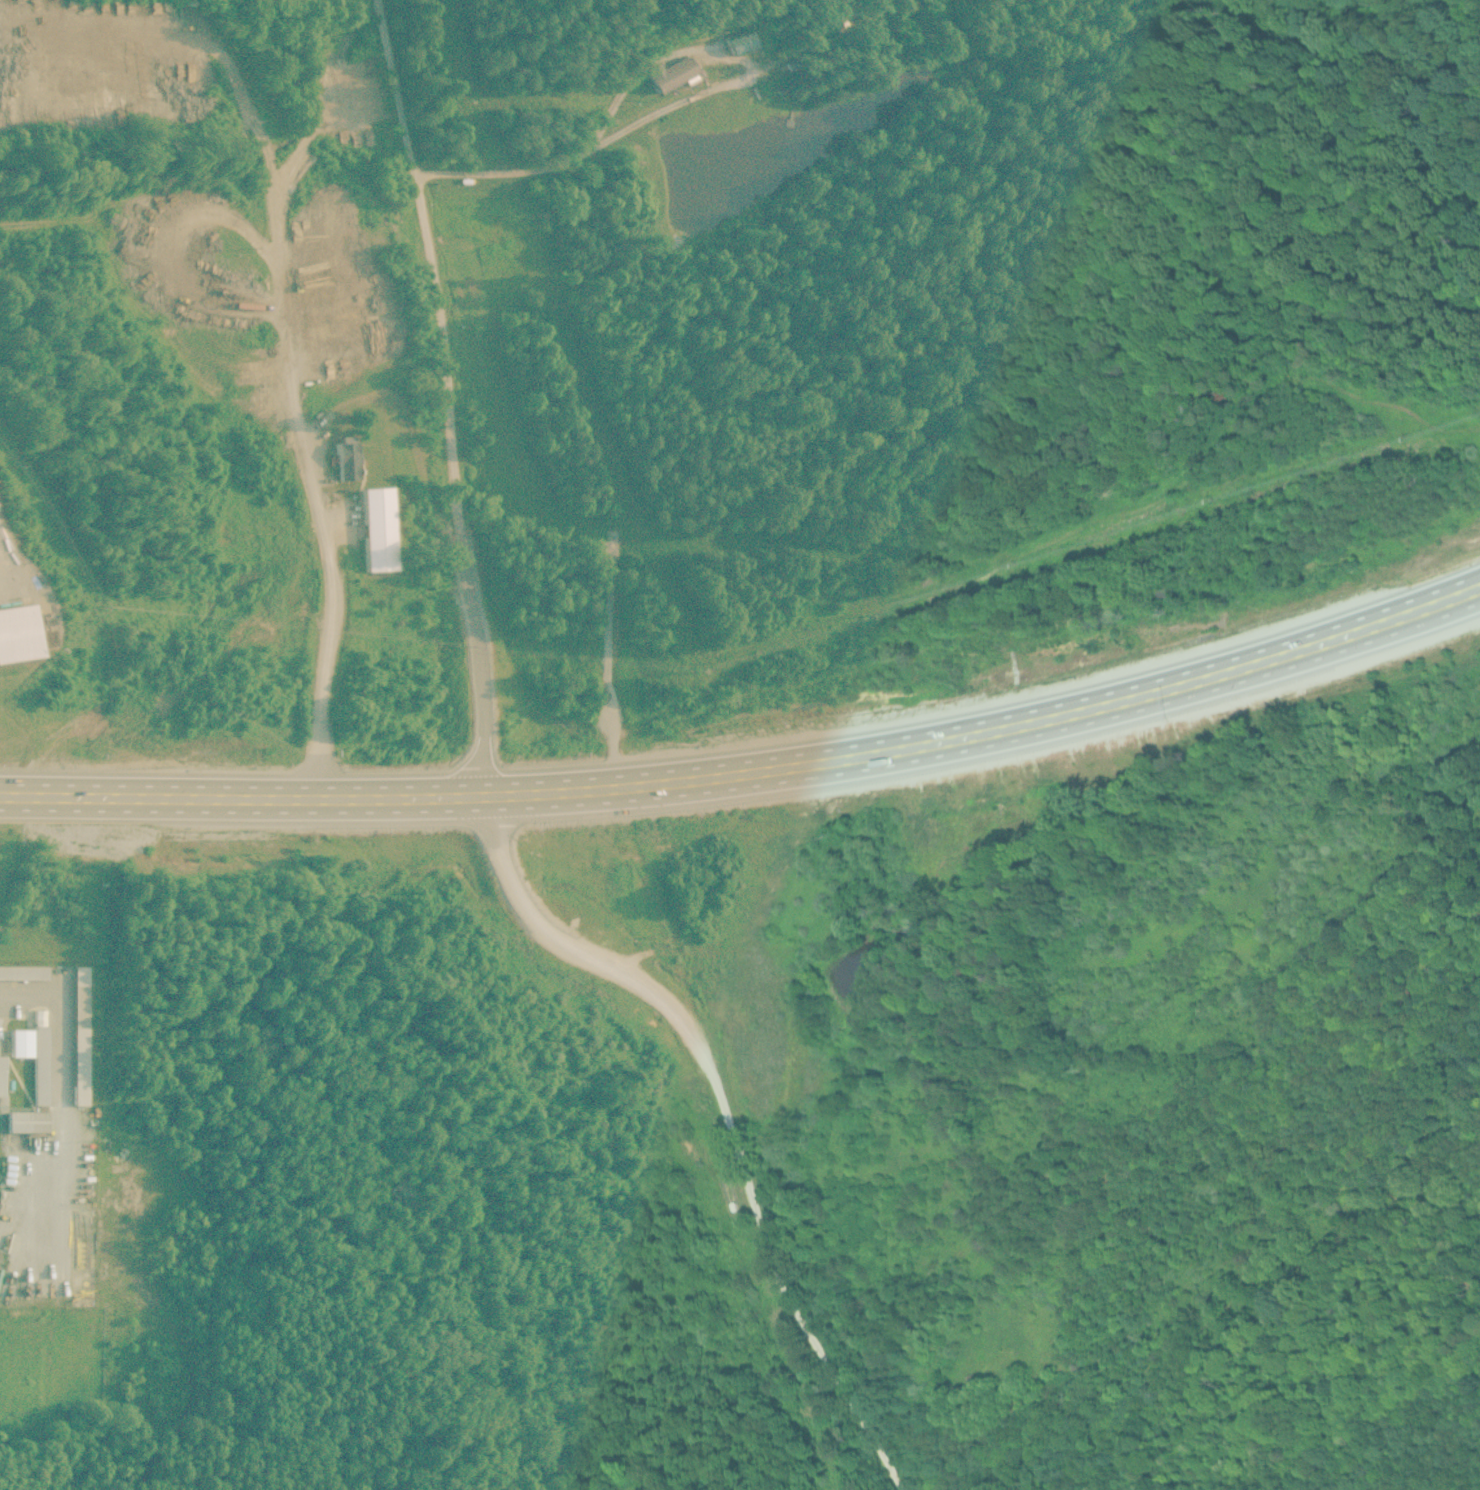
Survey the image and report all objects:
building: (870, 11)
building: (670, 71)
road: (685, 101)
road: (449, 394)
building: (346, 457)
building: (376, 528)
road: (331, 599)
road: (751, 756)
building: (24, 972)
building: (79, 1035)
building: (23, 1042)
building: (40, 1056)
road: (61, 1068)
building: (0, 1075)
road: (734, 1106)
building: (26, 1121)

